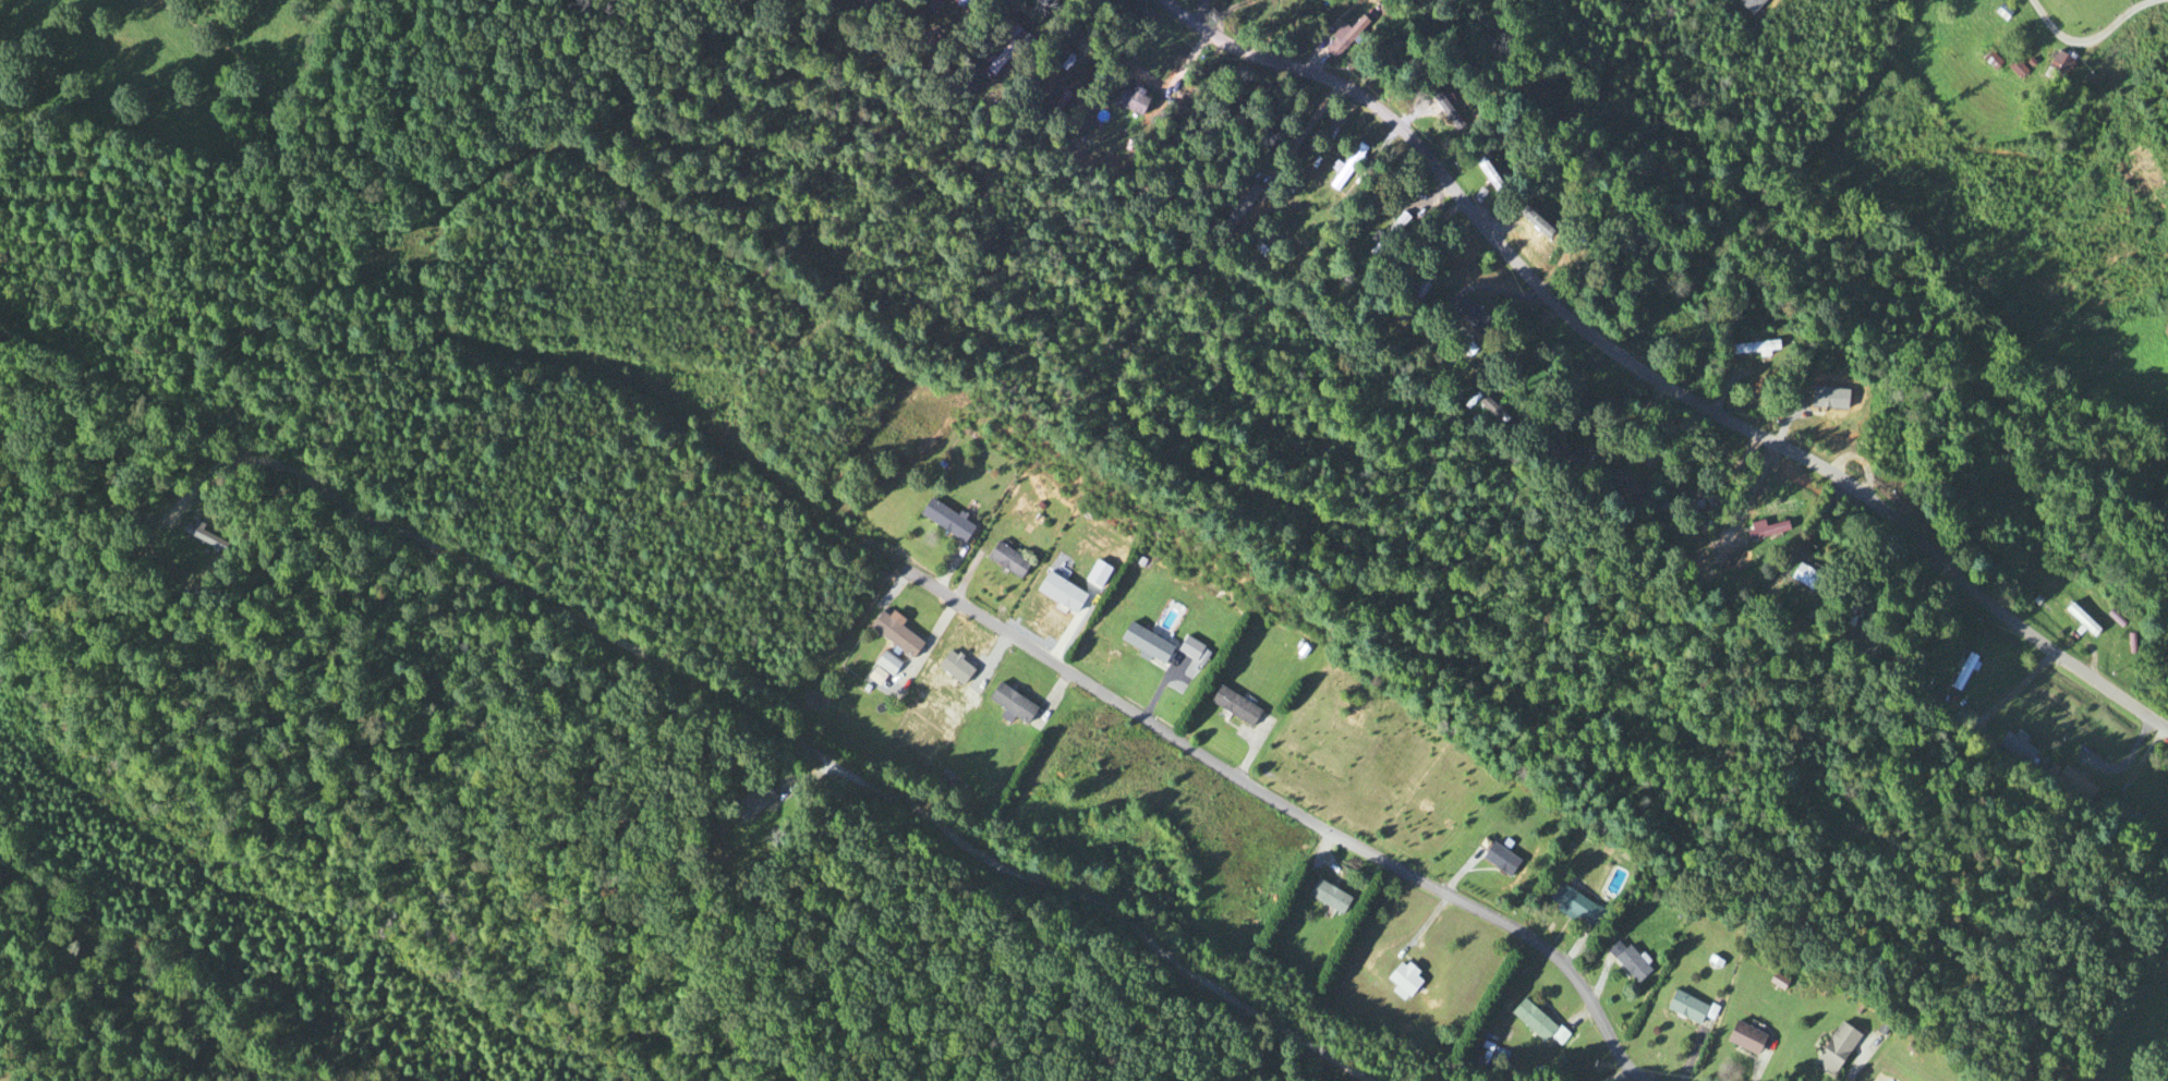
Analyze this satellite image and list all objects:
building: (958, 1)
building: (1748, 4)
road: (2090, 37)
building: (1339, 40)
building: (1008, 49)
building: (1989, 61)
building: (2059, 64)
building: (2014, 70)
building: (1442, 109)
building: (1170, 159)
building: (1346, 167)
building: (1482, 172)
building: (1403, 194)
building: (1242, 205)
building: (1530, 218)
building: (1386, 238)
building: (1573, 253)
building: (1413, 299)
building: (1470, 317)
building: (1463, 347)
building: (1753, 349)
road: (1650, 378)
building: (1493, 413)
building: (1620, 485)
building: (1710, 498)
building: (1678, 506)
building: (943, 520)
building: (1763, 533)
building: (199, 537)
building: (1006, 561)
building: (1808, 579)
building: (1853, 606)
building: (2080, 620)
building: (894, 634)
building: (1144, 644)
building: (887, 664)
building: (1961, 672)
building: (1010, 704)
building: (1231, 707)
road: (782, 734)
building: (2014, 746)
building: (2073, 787)
building: (749, 803)
road: (1284, 811)
building: (2129, 826)
building: (1499, 860)
building: (1325, 897)
building: (1575, 906)
building: (1627, 962)
building: (1402, 981)
building: (1685, 1008)
building: (1531, 1020)
building: (1743, 1039)
building: (1833, 1049)
road: (1619, 1077)

